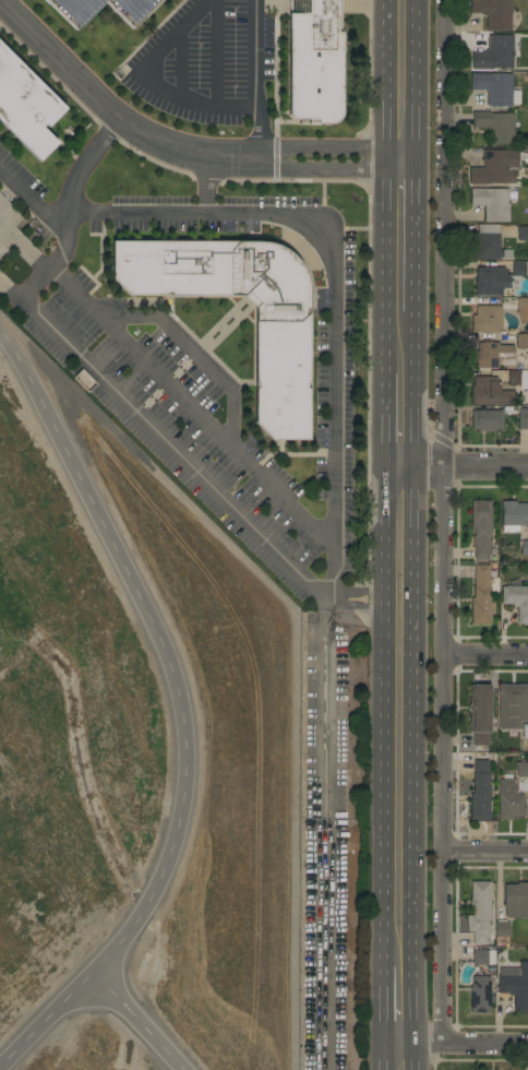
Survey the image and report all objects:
road: (130, 0)
road: (80, 5)
building: (493, 13)
building: (73, 14)
parking lot: (73, 14)
road: (215, 52)
road: (252, 53)
building: (494, 53)
parking lot: (203, 60)
building: (314, 60)
road: (148, 79)
road: (400, 80)
building: (495, 88)
building: (25, 106)
building: (495, 126)
road: (259, 132)
road: (173, 147)
building: (495, 167)
parking lot: (22, 169)
road: (85, 170)
road: (203, 188)
building: (492, 203)
parking lot: (196, 212)
building: (7, 224)
building: (523, 234)
road: (399, 236)
building: (488, 243)
parking lot: (11, 248)
road: (332, 257)
building: (499, 278)
building: (523, 305)
building: (487, 320)
building: (521, 342)
road: (398, 343)
road: (193, 353)
building: (492, 354)
building: (281, 365)
building: (518, 378)
building: (84, 380)
building: (491, 392)
road: (183, 402)
parking lot: (339, 405)
parking lot: (175, 419)
building: (487, 419)
road: (397, 421)
building: (523, 421)
road: (163, 440)
road: (461, 468)
building: (513, 515)
road: (439, 522)
building: (481, 527)
road: (397, 533)
building: (525, 547)
building: (482, 594)
building: (517, 601)
road: (483, 656)
building: (512, 705)
road: (180, 709)
building: (479, 709)
building: (525, 730)
building: (481, 739)
airport: (135, 762)
building: (521, 770)
road: (397, 781)
building: (480, 788)
building: (509, 800)
parking lot: (323, 846)
road: (483, 851)
building: (516, 900)
building: (478, 913)
building: (502, 928)
road: (333, 948)
building: (482, 956)
building: (515, 985)
building: (480, 995)
road: (397, 1006)
road: (136, 1021)
road: (463, 1045)
road: (397, 1057)

